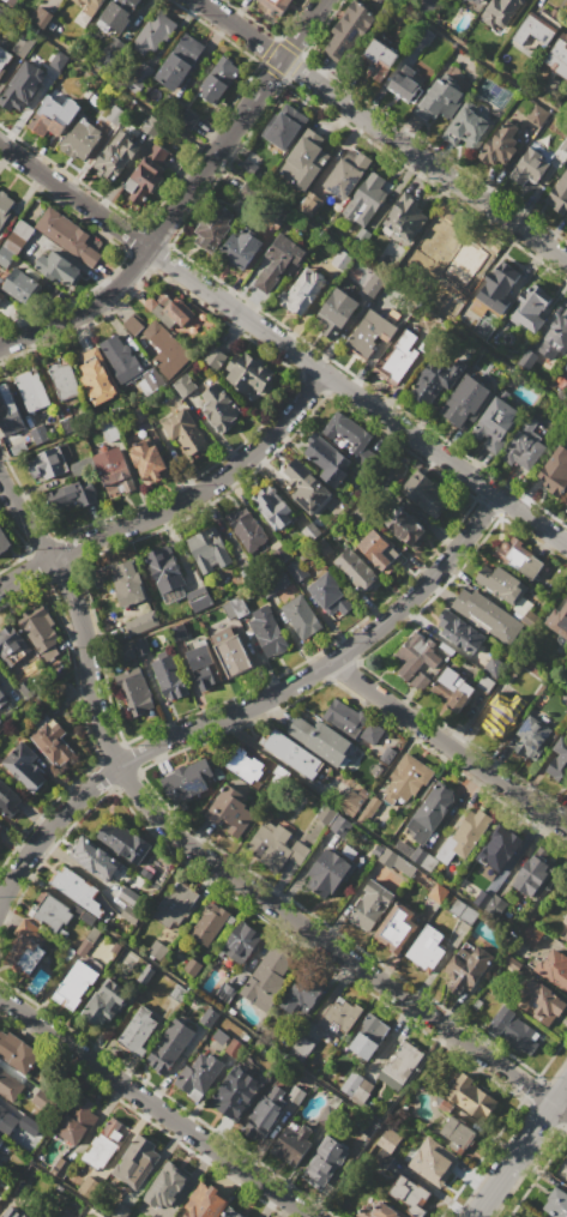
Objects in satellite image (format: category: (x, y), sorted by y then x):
building: (10, 1)
building: (477, 1)
building: (276, 5)
building: (424, 5)
building: (90, 6)
building: (499, 11)
building: (117, 13)
building: (40, 16)
building: (80, 18)
road: (239, 29)
road: (301, 29)
building: (538, 29)
building: (349, 30)
building: (153, 34)
building: (424, 36)
building: (23, 44)
building: (110, 49)
building: (557, 56)
building: (5, 59)
building: (182, 59)
building: (379, 59)
building: (59, 60)
road: (481, 60)
building: (139, 77)
building: (219, 79)
building: (23, 86)
building: (404, 88)
park: (489, 91)
building: (440, 98)
building: (115, 114)
building: (537, 114)
building: (53, 115)
building: (188, 119)
building: (151, 126)
building: (284, 127)
building: (469, 128)
building: (80, 139)
building: (500, 145)
building: (117, 155)
road: (423, 159)
building: (303, 161)
building: (529, 167)
building: (152, 170)
building: (346, 173)
building: (557, 193)
building: (312, 198)
building: (367, 199)
road: (283, 203)
building: (4, 206)
building: (405, 218)
building: (213, 227)
road: (161, 230)
building: (70, 236)
building: (362, 236)
building: (435, 240)
building: (14, 241)
building: (241, 248)
building: (342, 260)
building: (278, 261)
building: (58, 267)
building: (20, 285)
building: (373, 285)
building: (497, 287)
building: (303, 291)
building: (1, 295)
building: (450, 300)
building: (529, 307)
building: (169, 309)
building: (336, 313)
building: (134, 324)
building: (369, 333)
building: (555, 337)
road: (283, 345)
building: (165, 349)
building: (120, 357)
building: (215, 357)
building: (527, 357)
building: (397, 359)
building: (566, 366)
building: (248, 373)
building: (96, 376)
building: (64, 380)
building: (150, 380)
building: (434, 380)
building: (183, 385)
building: (32, 391)
building: (6, 400)
building: (465, 402)
building: (219, 408)
building: (137, 416)
building: (494, 422)
building: (71, 423)
building: (12, 424)
building: (109, 430)
building: (348, 430)
building: (38, 433)
building: (186, 433)
building: (523, 446)
building: (54, 459)
building: (327, 459)
building: (147, 462)
building: (114, 471)
road: (539, 471)
building: (555, 472)
building: (304, 486)
building: (426, 493)
building: (72, 494)
building: (566, 504)
road: (180, 507)
building: (272, 507)
building: (404, 526)
building: (247, 529)
building: (310, 532)
building: (4, 541)
building: (209, 550)
building: (376, 550)
building: (281, 554)
building: (518, 558)
building: (296, 570)
building: (357, 570)
building: (165, 573)
building: (273, 583)
building: (501, 584)
building: (129, 586)
building: (197, 594)
building: (330, 594)
building: (235, 607)
building: (559, 615)
building: (301, 616)
building: (488, 616)
building: (141, 622)
building: (265, 629)
building: (179, 632)
building: (460, 632)
building: (42, 633)
building: (13, 646)
building: (141, 647)
building: (231, 651)
building: (417, 655)
building: (203, 667)
building: (494, 667)
building: (169, 677)
building: (420, 681)
building: (484, 683)
building: (451, 688)
building: (134, 691)
building: (476, 694)
building: (2, 699)
road: (249, 712)
building: (503, 712)
building: (0, 721)
building: (352, 721)
building: (531, 737)
building: (319, 739)
building: (53, 742)
road: (454, 747)
building: (292, 753)
building: (387, 754)
building: (559, 760)
building: (243, 765)
building: (24, 766)
building: (406, 778)
building: (187, 781)
building: (8, 800)
building: (360, 805)
building: (230, 812)
building: (430, 812)
building: (326, 814)
building: (0, 823)
building: (339, 825)
building: (0, 826)
building: (464, 836)
building: (123, 842)
building: (500, 845)
building: (276, 848)
building: (95, 857)
building: (423, 858)
building: (393, 860)
road: (198, 866)
building: (146, 873)
building: (330, 873)
building: (532, 875)
building: (76, 888)
building: (438, 893)
building: (128, 896)
building: (174, 905)
building: (370, 905)
building: (496, 905)
building: (457, 906)
building: (49, 912)
building: (83, 914)
building: (131, 915)
building: (468, 915)
building: (209, 923)
building: (397, 927)
building: (531, 935)
building: (566, 938)
building: (23, 941)
building: (86, 942)
building: (240, 942)
building: (115, 947)
building: (427, 947)
building: (157, 950)
building: (123, 963)
building: (192, 966)
building: (468, 968)
building: (554, 969)
building: (146, 974)
building: (269, 977)
building: (74, 984)
building: (225, 992)
building: (304, 992)
building: (179, 993)
building: (105, 1002)
building: (541, 1002)
building: (340, 1016)
building: (209, 1017)
building: (138, 1030)
building: (513, 1031)
building: (219, 1037)
building: (368, 1037)
building: (170, 1046)
building: (301, 1048)
building: (17, 1052)
building: (403, 1061)
building: (199, 1076)
building: (10, 1086)
building: (356, 1088)
building: (236, 1092)
building: (470, 1097)
building: (44, 1101)
road: (156, 1104)
building: (445, 1105)
building: (265, 1113)
building: (6, 1120)
building: (78, 1120)
building: (26, 1123)
building: (457, 1134)
building: (0, 1138)
building: (388, 1139)
building: (1, 1140)
building: (103, 1145)
building: (290, 1146)
road: (519, 1149)
building: (433, 1157)
building: (135, 1161)
building: (324, 1162)
building: (565, 1176)
building: (167, 1187)
building: (409, 1195)
building: (204, 1201)
building: (556, 1203)
building: (380, 1211)
building: (13, 1212)
building: (231, 1212)
building: (40, 1216)
building: (535, 1216)

